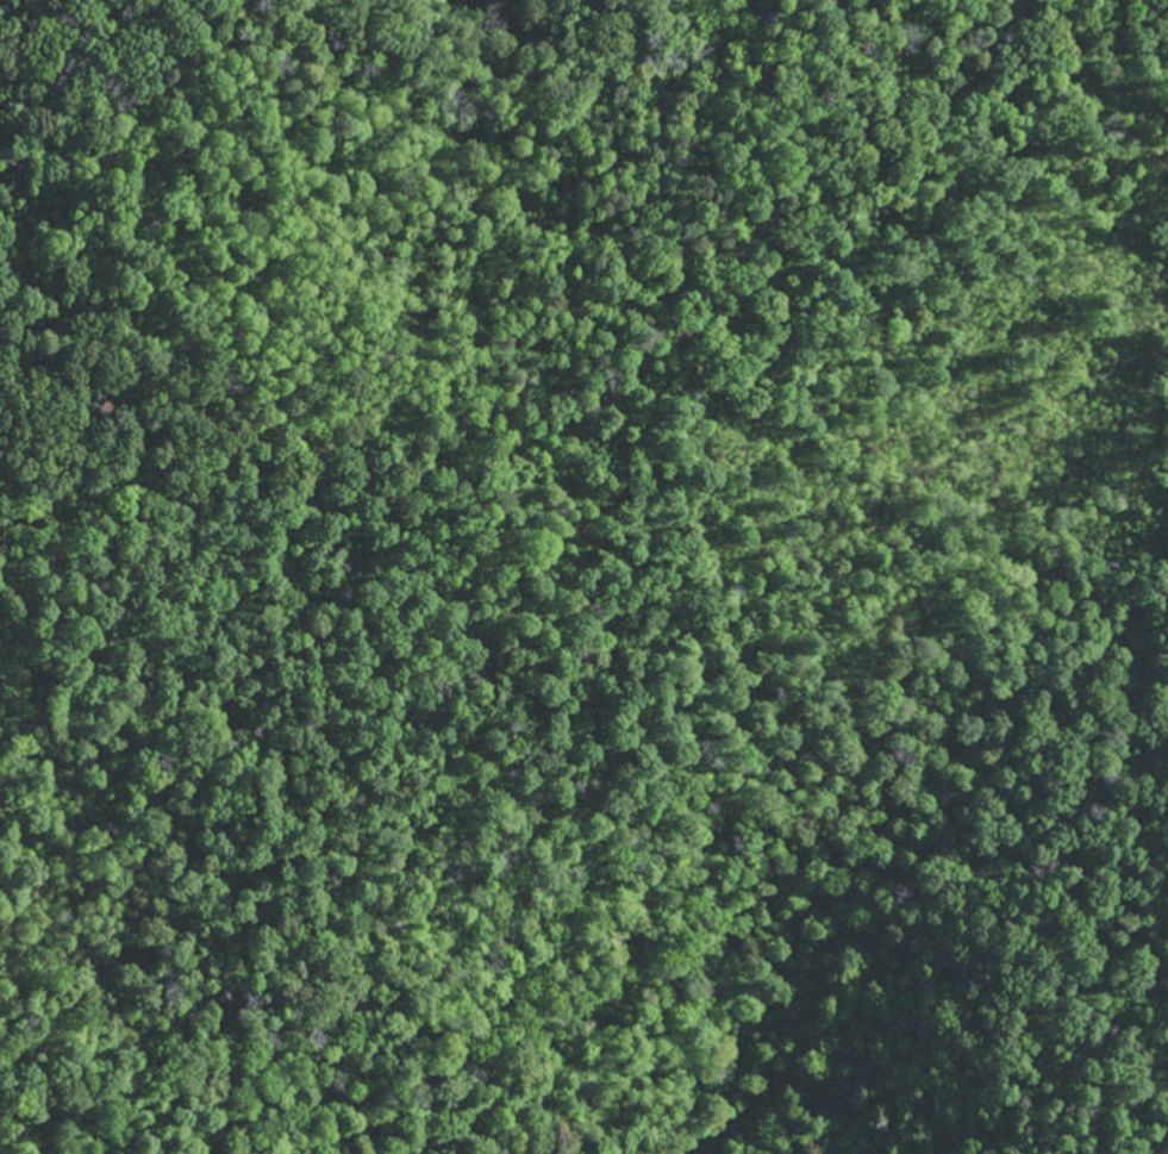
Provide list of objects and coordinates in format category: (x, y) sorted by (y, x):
road: (1050, 832)

